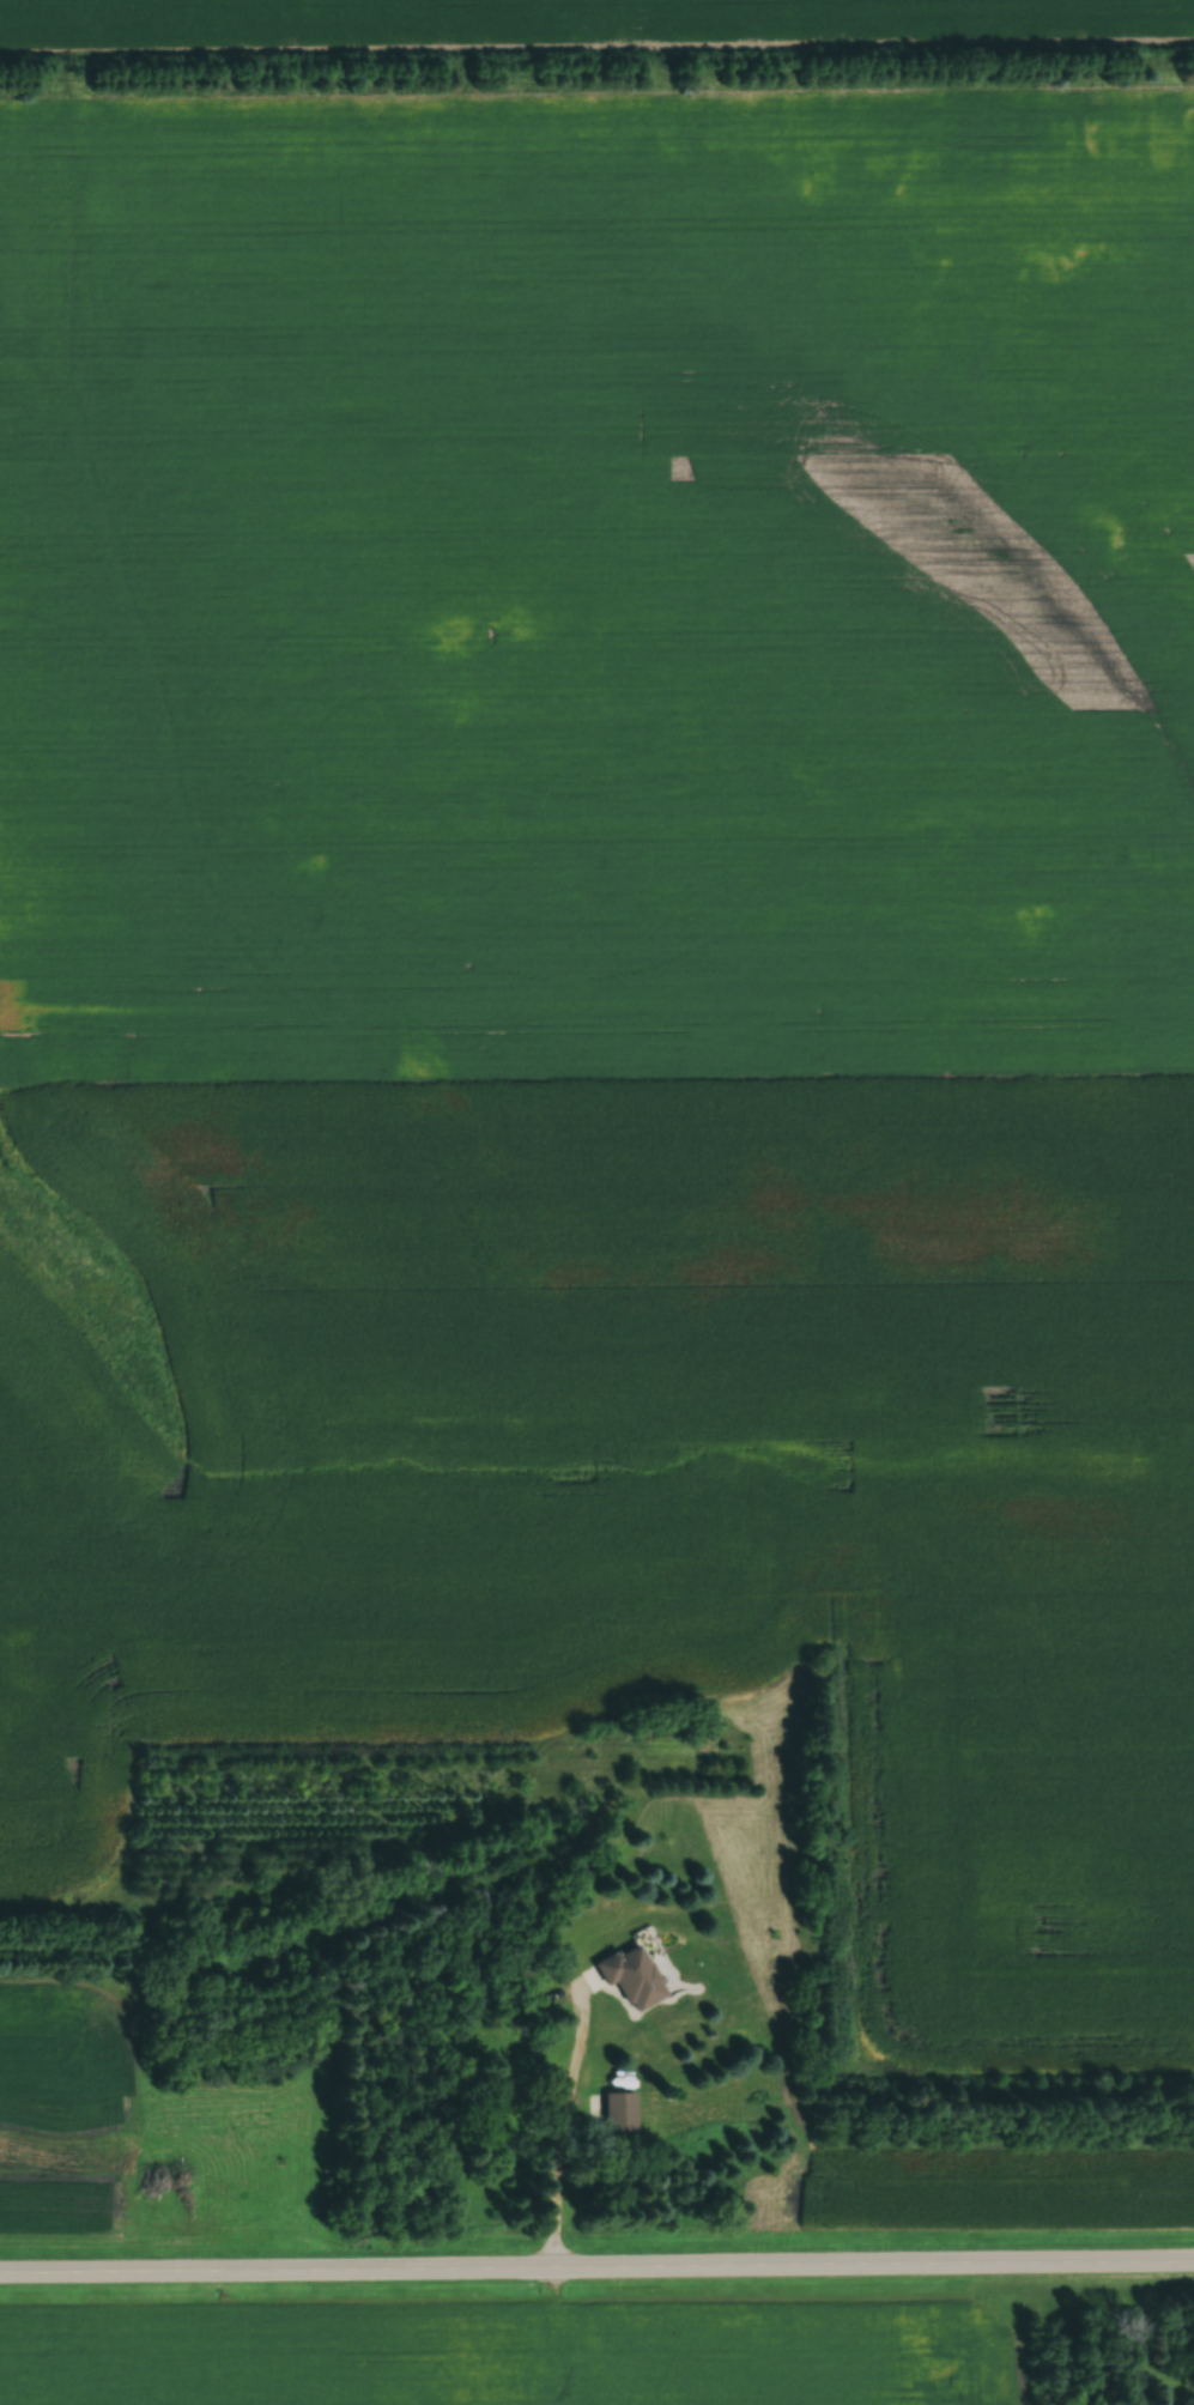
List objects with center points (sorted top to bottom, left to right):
building: (631, 1975)
building: (620, 2112)
road: (596, 2267)

